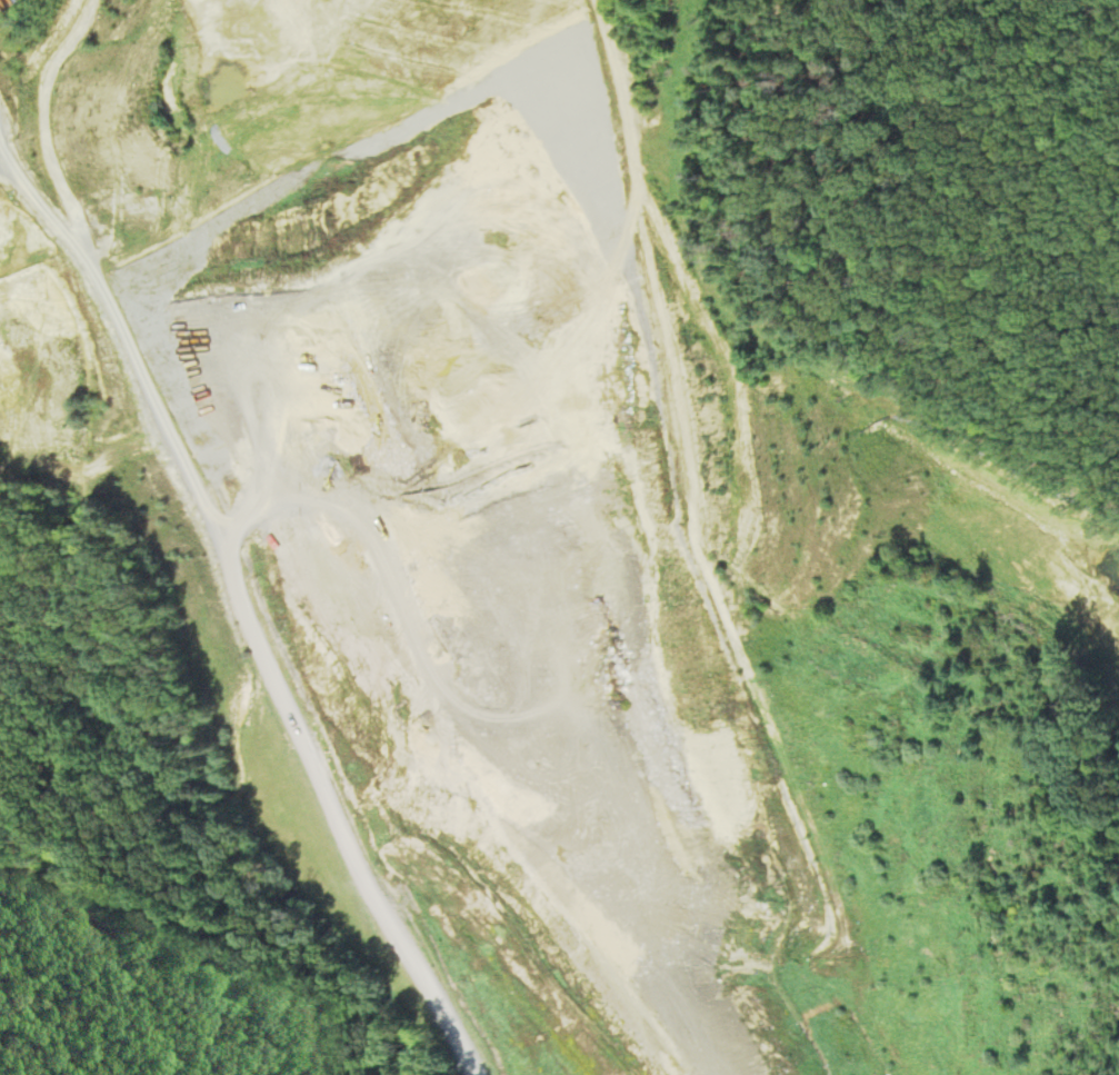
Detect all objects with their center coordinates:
road: (686, 275)
road: (233, 590)

